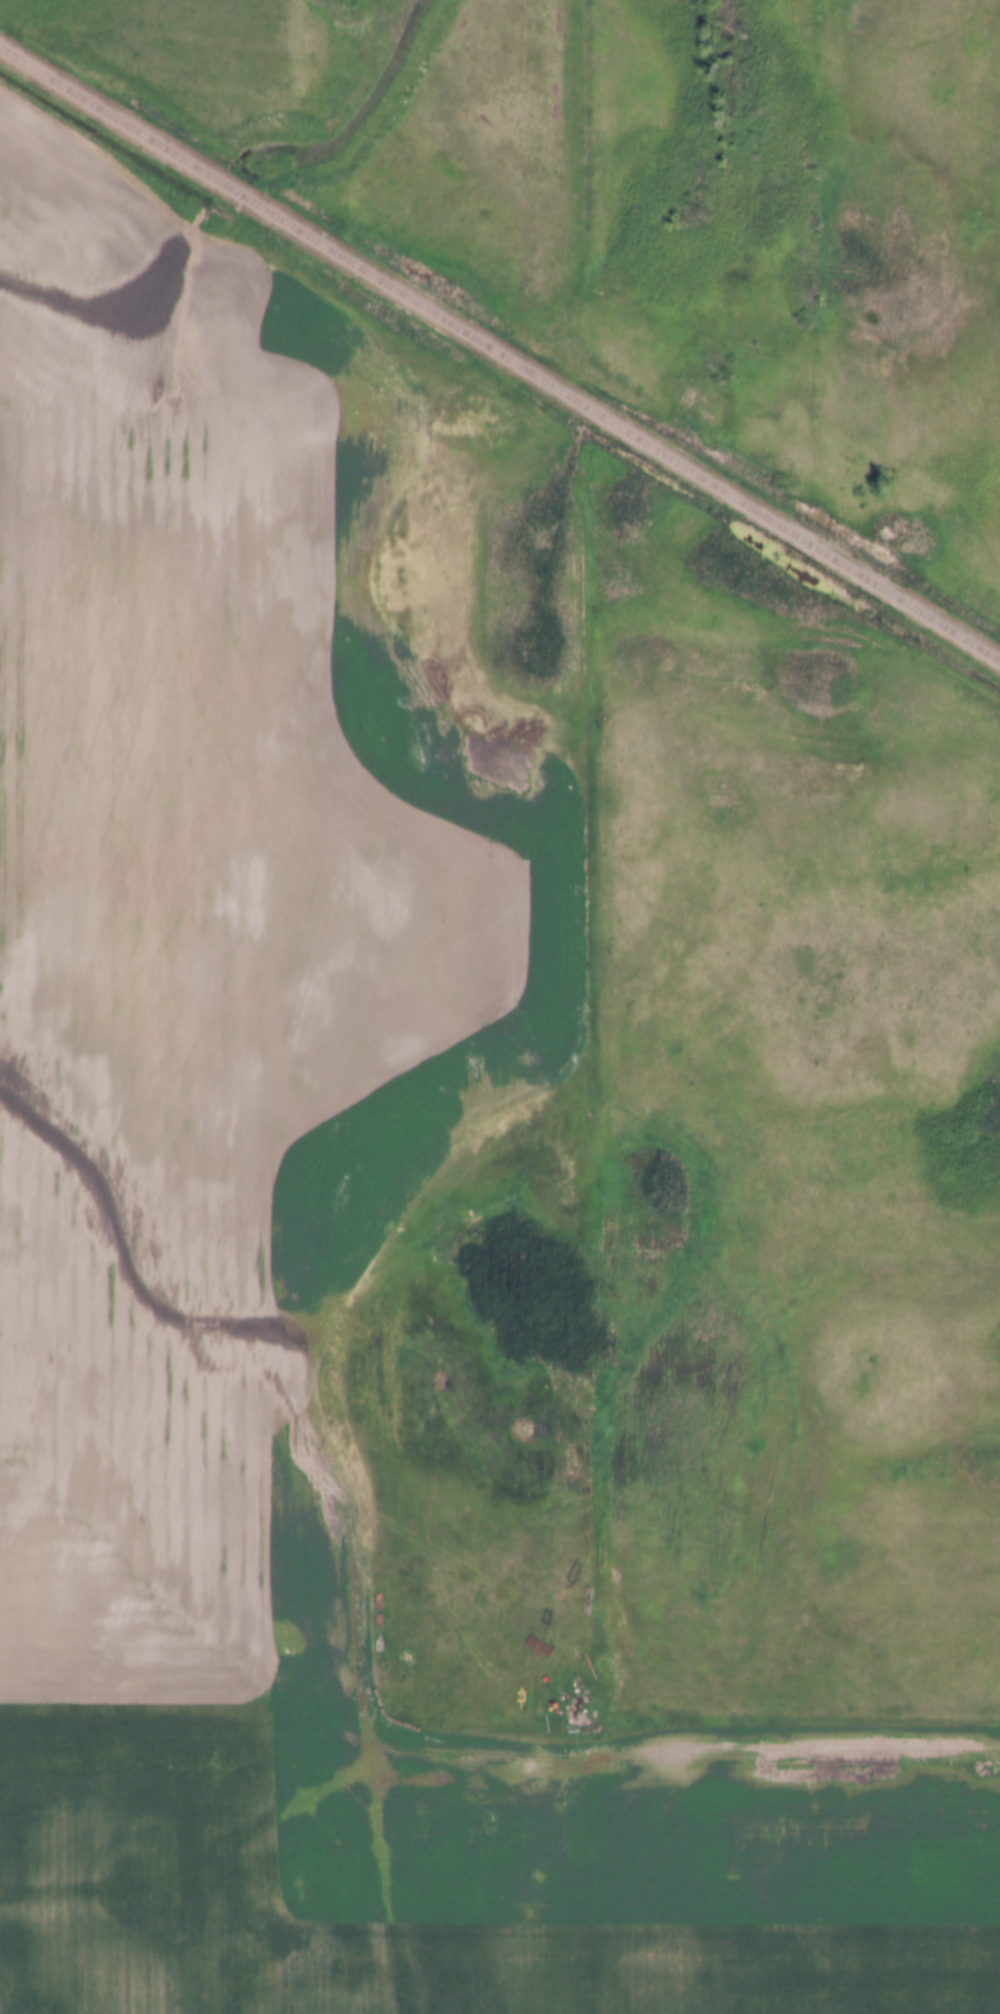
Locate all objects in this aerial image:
railway: (500, 349)

